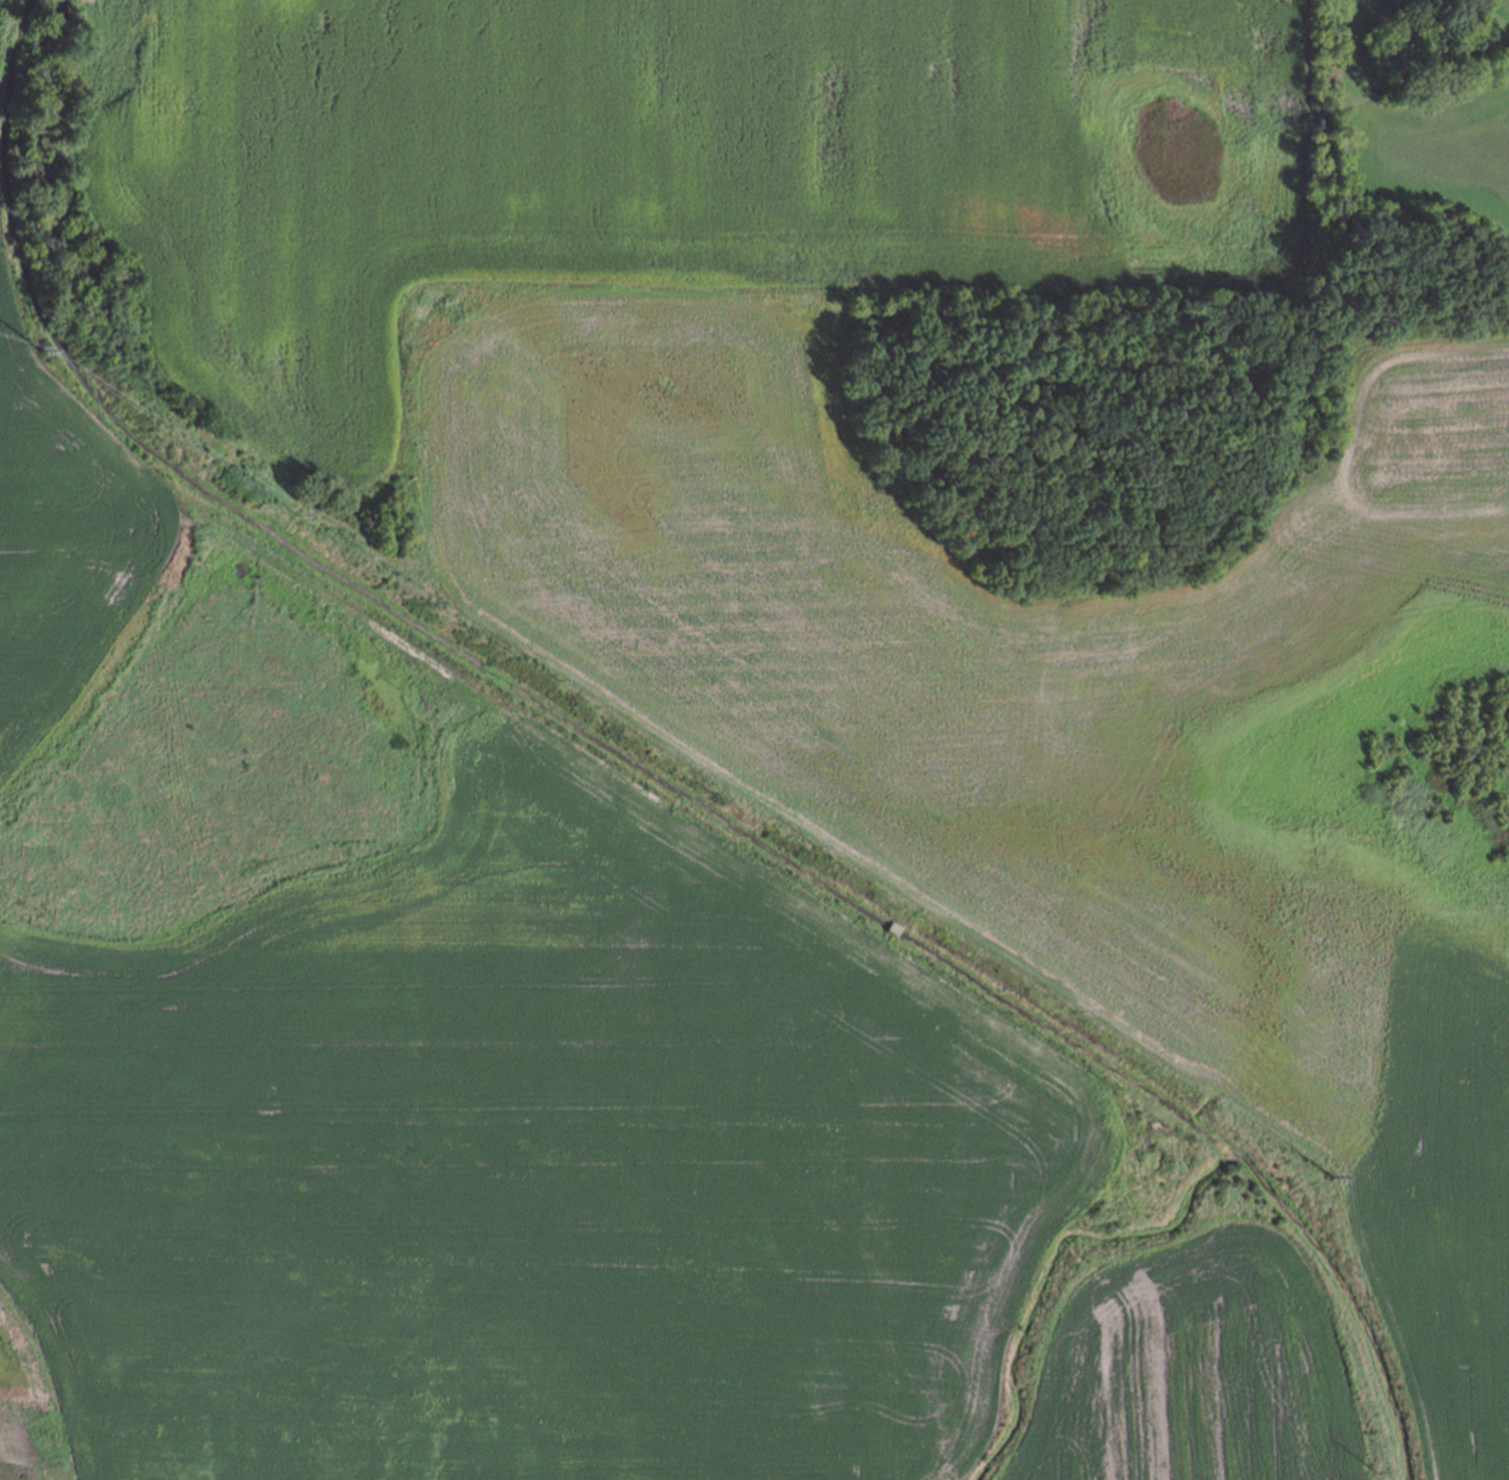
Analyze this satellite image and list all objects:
power tower: (38, 348)
power tower: (1326, 1175)

